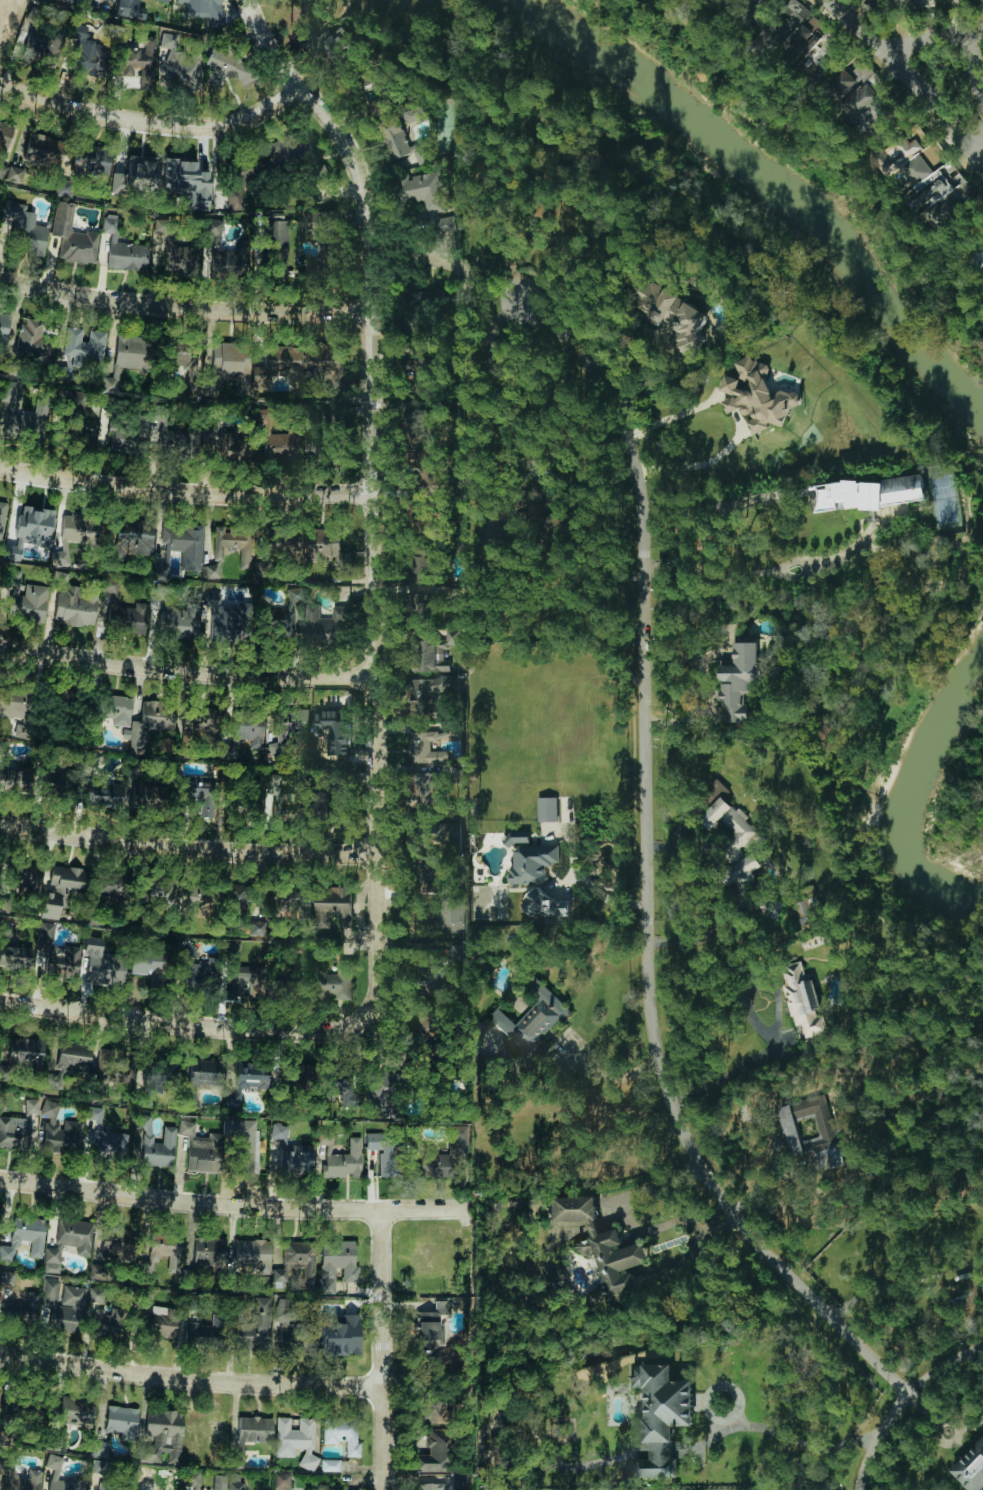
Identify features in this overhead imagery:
building: (110, 0)
building: (162, 0)
building: (73, 1)
building: (923, 3)
building: (130, 9)
building: (0, 14)
building: (797, 32)
building: (168, 40)
road: (897, 46)
building: (140, 61)
building: (228, 67)
building: (815, 69)
road: (974, 72)
building: (380, 90)
building: (858, 97)
road: (936, 106)
building: (414, 114)
road: (152, 121)
road: (981, 146)
building: (403, 148)
building: (42, 149)
building: (289, 150)
building: (898, 157)
building: (90, 160)
building: (918, 170)
building: (10, 172)
building: (136, 176)
river: (782, 176)
building: (239, 180)
building: (186, 182)
building: (944, 190)
building: (429, 199)
building: (24, 229)
building: (72, 235)
building: (323, 240)
building: (277, 242)
building: (122, 248)
building: (222, 248)
road: (429, 255)
building: (181, 259)
building: (978, 261)
building: (417, 304)
road: (184, 306)
building: (3, 328)
building: (33, 341)
building: (83, 344)
building: (131, 351)
building: (181, 355)
building: (230, 362)
building: (301, 363)
building: (413, 366)
building: (61, 371)
building: (110, 383)
building: (8, 389)
building: (757, 395)
road: (672, 417)
building: (28, 422)
building: (77, 426)
building: (128, 437)
building: (181, 442)
building: (282, 443)
building: (317, 443)
building: (228, 447)
road: (704, 463)
road: (186, 492)
building: (873, 493)
building: (2, 517)
building: (29, 529)
building: (80, 529)
building: (133, 538)
road: (374, 542)
building: (184, 544)
building: (287, 545)
building: (327, 547)
building: (424, 562)
building: (211, 570)
road: (720, 575)
building: (294, 593)
building: (27, 601)
building: (74, 602)
building: (127, 613)
building: (226, 619)
building: (279, 622)
building: (324, 625)
building: (434, 652)
road: (187, 671)
building: (739, 682)
building: (430, 691)
building: (14, 703)
building: (113, 705)
building: (198, 719)
building: (150, 723)
building: (288, 726)
building: (242, 734)
building: (424, 749)
building: (13, 775)
building: (58, 781)
river: (889, 789)
building: (197, 791)
building: (428, 791)
building: (146, 793)
building: (103, 794)
building: (328, 801)
building: (547, 809)
building: (450, 833)
building: (517, 837)
building: (735, 841)
road: (187, 849)
building: (532, 863)
road: (649, 873)
building: (23, 875)
building: (430, 876)
building: (113, 883)
building: (61, 887)
building: (160, 895)
building: (202, 895)
building: (4, 903)
building: (543, 904)
building: (333, 908)
building: (771, 909)
building: (451, 914)
building: (54, 954)
building: (458, 954)
building: (15, 957)
building: (102, 963)
building: (148, 964)
building: (197, 974)
building: (434, 979)
building: (245, 981)
building: (338, 983)
building: (290, 986)
building: (802, 1000)
road: (134, 1017)
building: (532, 1019)
building: (22, 1053)
building: (73, 1055)
building: (119, 1067)
building: (159, 1075)
road: (614, 1075)
road: (736, 1075)
building: (201, 1076)
building: (246, 1080)
building: (341, 1087)
building: (31, 1105)
building: (824, 1127)
building: (15, 1131)
building: (59, 1131)
building: (105, 1137)
building: (244, 1143)
building: (154, 1144)
building: (200, 1148)
building: (290, 1151)
building: (387, 1153)
building: (443, 1155)
building: (343, 1162)
road: (235, 1208)
road: (632, 1226)
building: (23, 1236)
building: (68, 1242)
building: (600, 1242)
building: (118, 1244)
building: (165, 1249)
building: (208, 1254)
building: (296, 1261)
building: (336, 1263)
building: (8, 1278)
building: (63, 1305)
building: (17, 1308)
building: (107, 1321)
building: (158, 1322)
building: (256, 1325)
building: (294, 1329)
building: (201, 1334)
building: (340, 1334)
building: (426, 1335)
road: (383, 1350)
road: (944, 1367)
road: (191, 1382)
building: (433, 1410)
building: (76, 1411)
building: (662, 1416)
building: (122, 1421)
building: (341, 1433)
building: (162, 1435)
road: (786, 1436)
road: (877, 1437)
building: (295, 1439)
building: (99, 1447)
building: (433, 1451)
building: (329, 1464)
building: (98, 1466)
building: (971, 1468)
building: (54, 1472)
building: (145, 1477)
building: (282, 1480)
building: (23, 1481)
building: (1, 1482)
building: (227, 1482)
building: (427, 1486)
building: (112, 1487)

